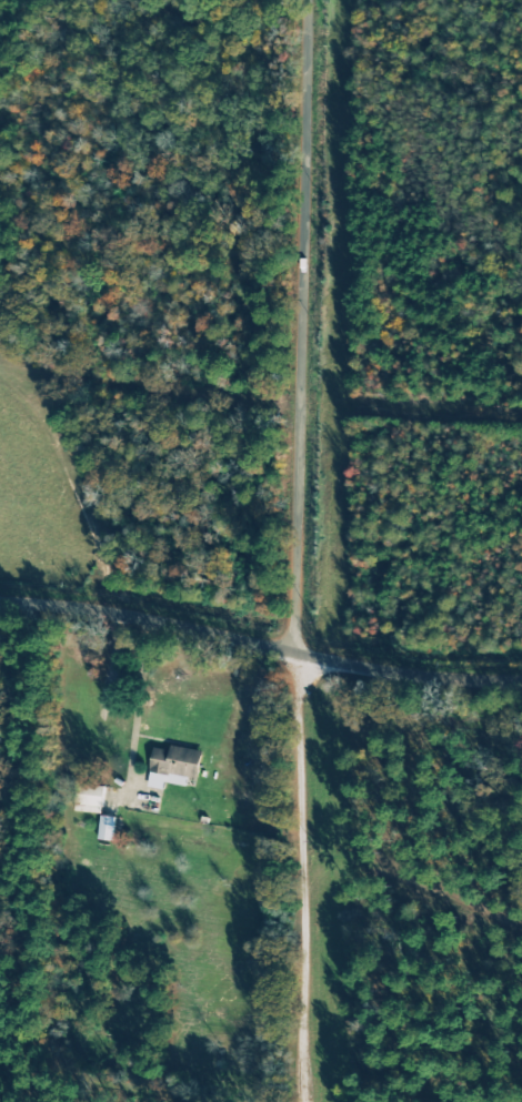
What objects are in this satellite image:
road: (299, 326)
road: (260, 641)
road: (139, 696)
building: (177, 766)
building: (93, 799)
building: (109, 828)
road: (303, 878)

